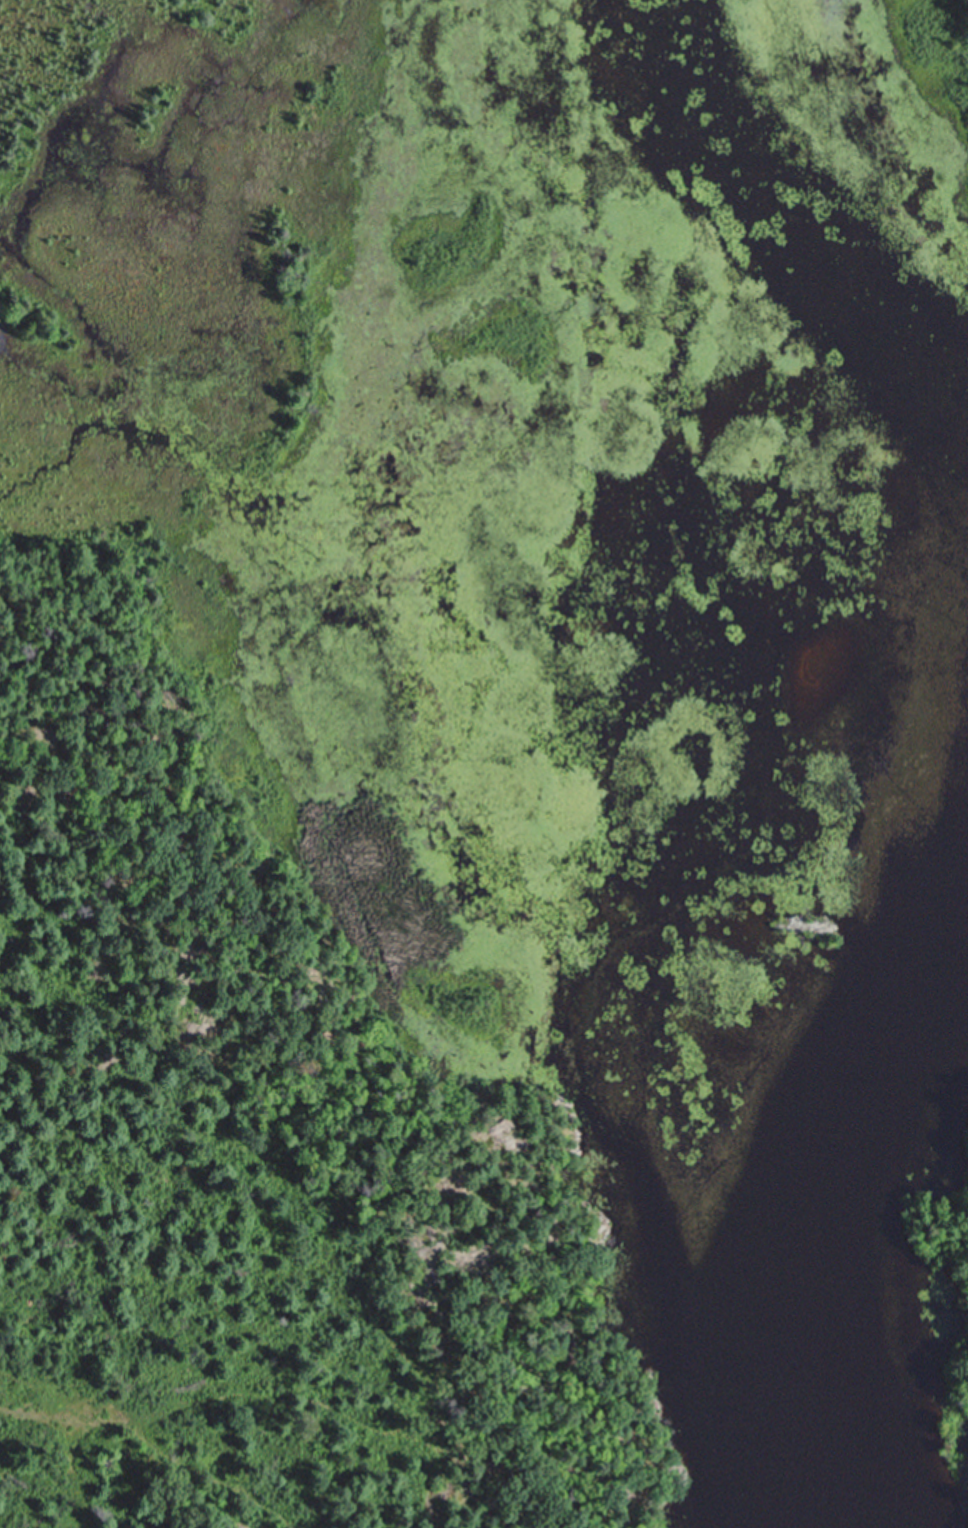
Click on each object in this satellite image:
road: (251, 1417)

